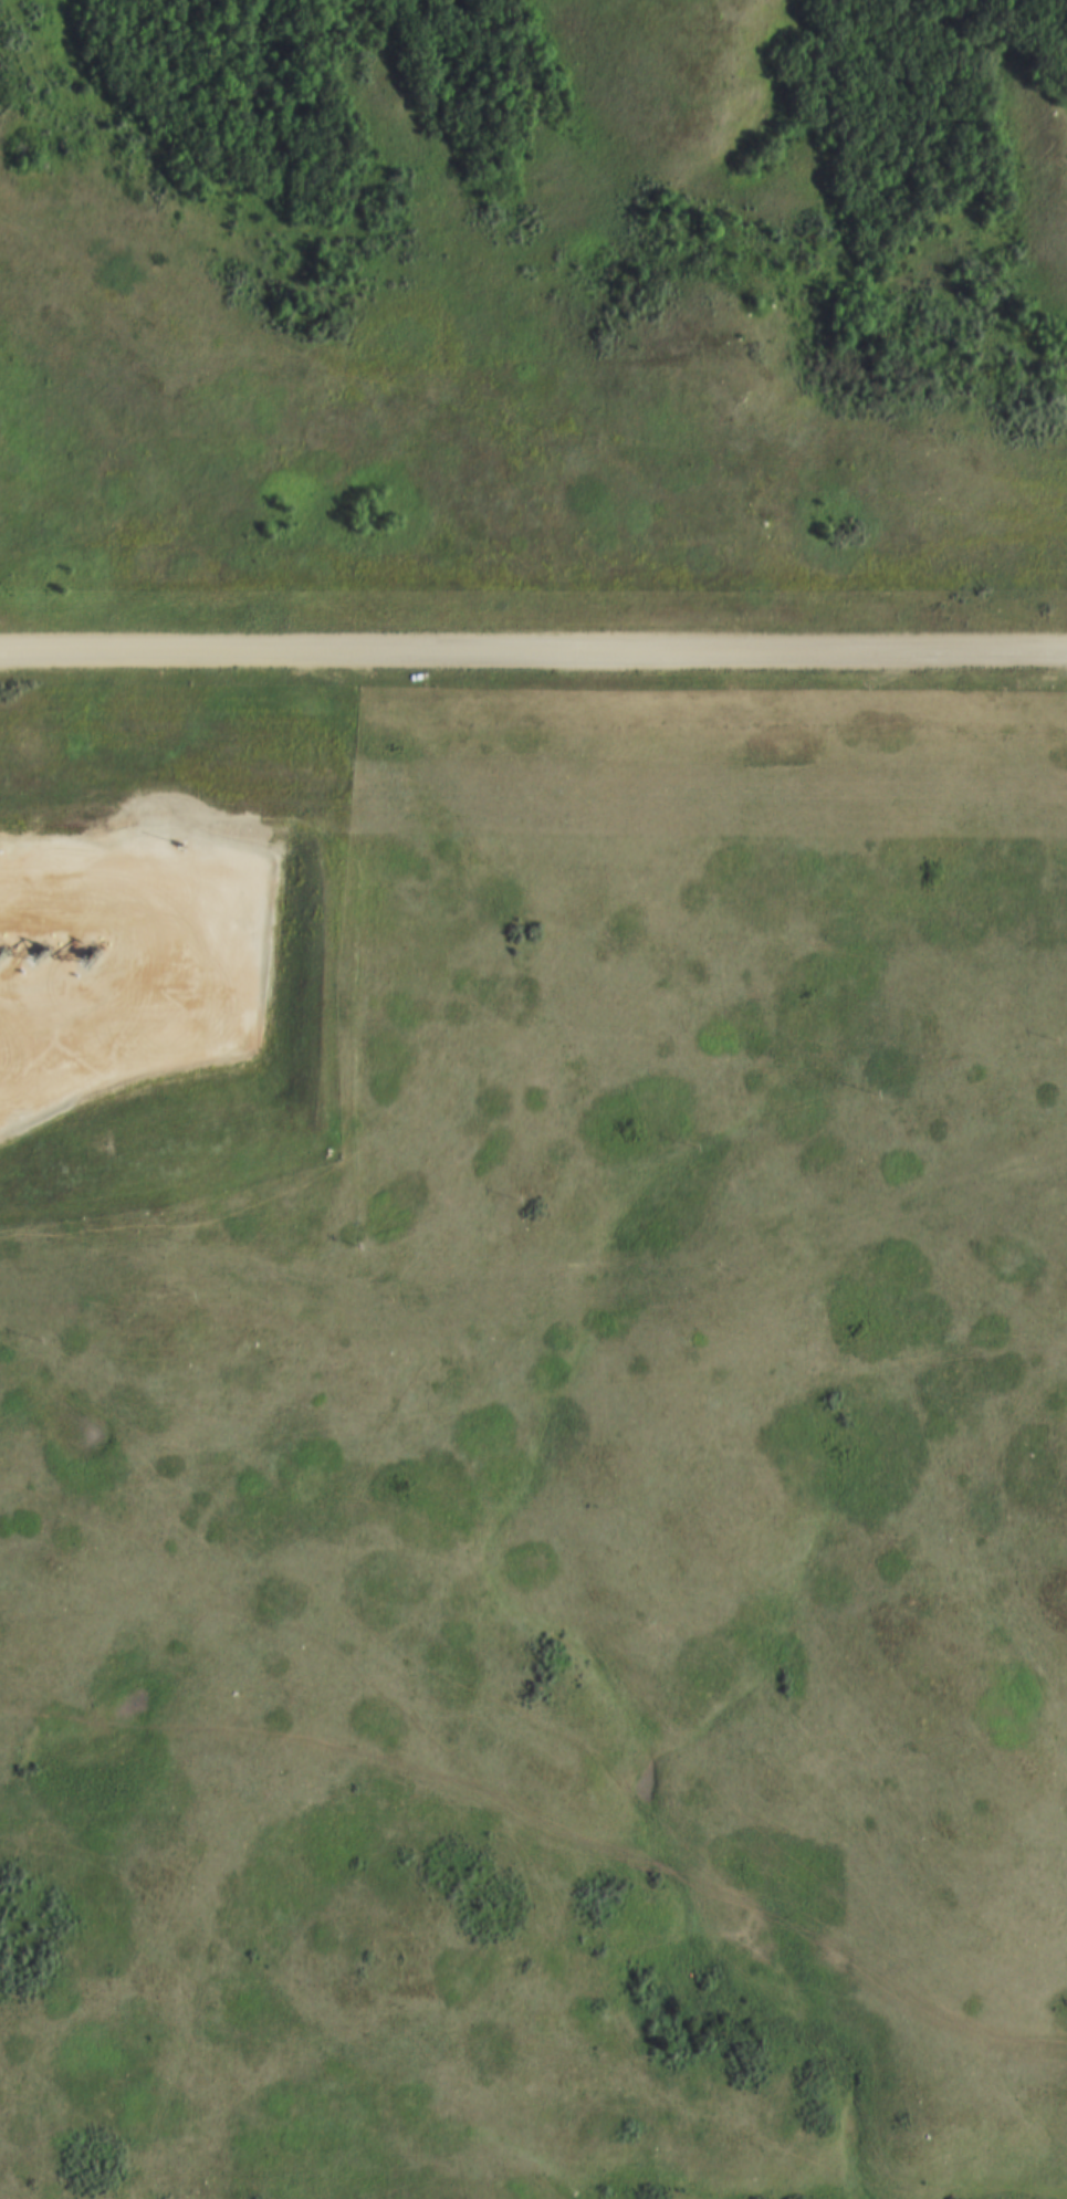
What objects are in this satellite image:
road: (533, 656)
building: (46, 844)
building: (17, 846)
building: (85, 852)
building: (137, 854)
building: (188, 855)
building: (243, 855)
building: (168, 912)
petroleum well: (31, 949)
building: (150, 949)
petroleum well: (83, 950)

